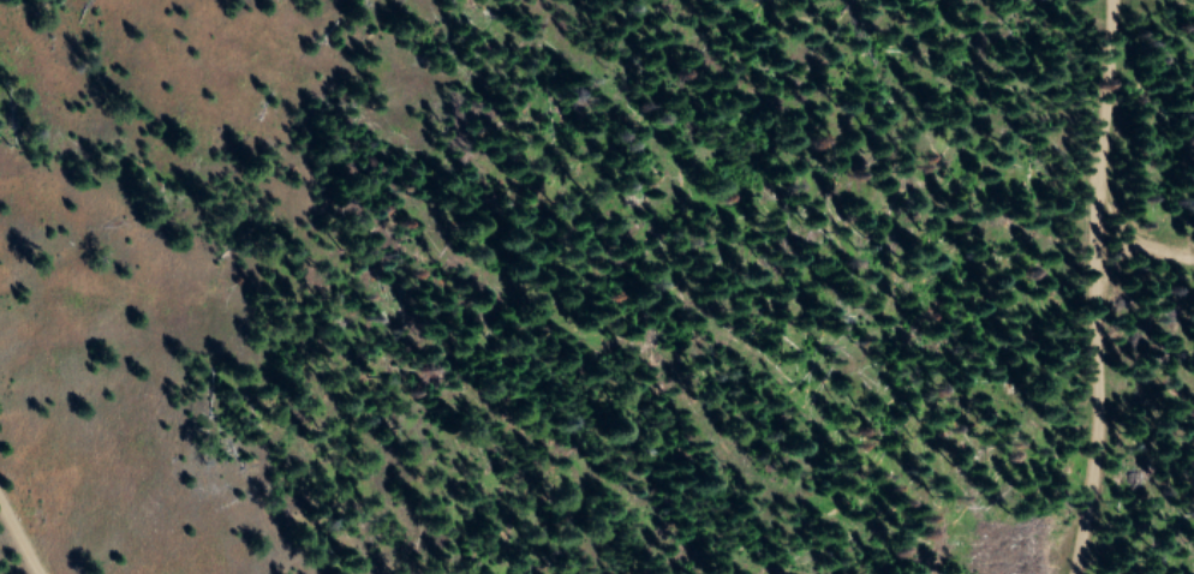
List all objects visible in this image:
road: (1146, 289)
road: (1172, 424)
road: (10, 556)
road: (348, 558)

